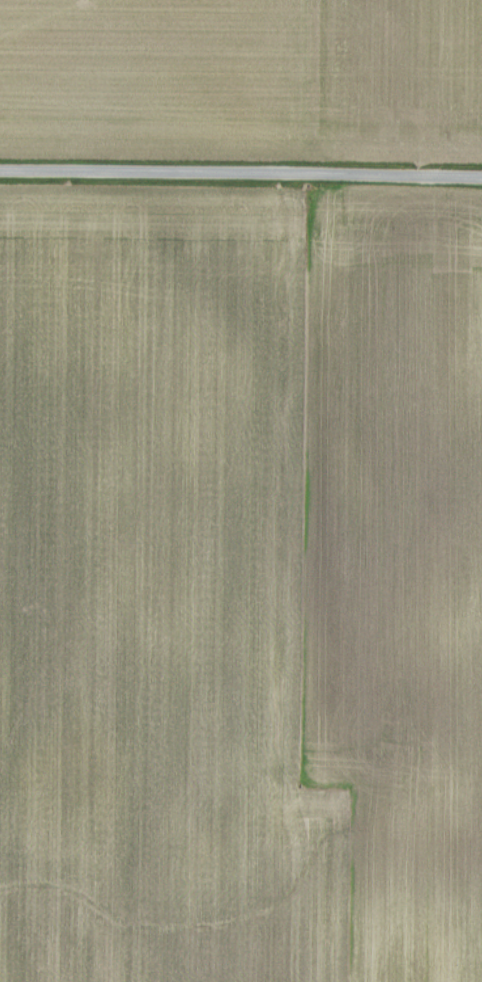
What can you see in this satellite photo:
road: (241, 174)

